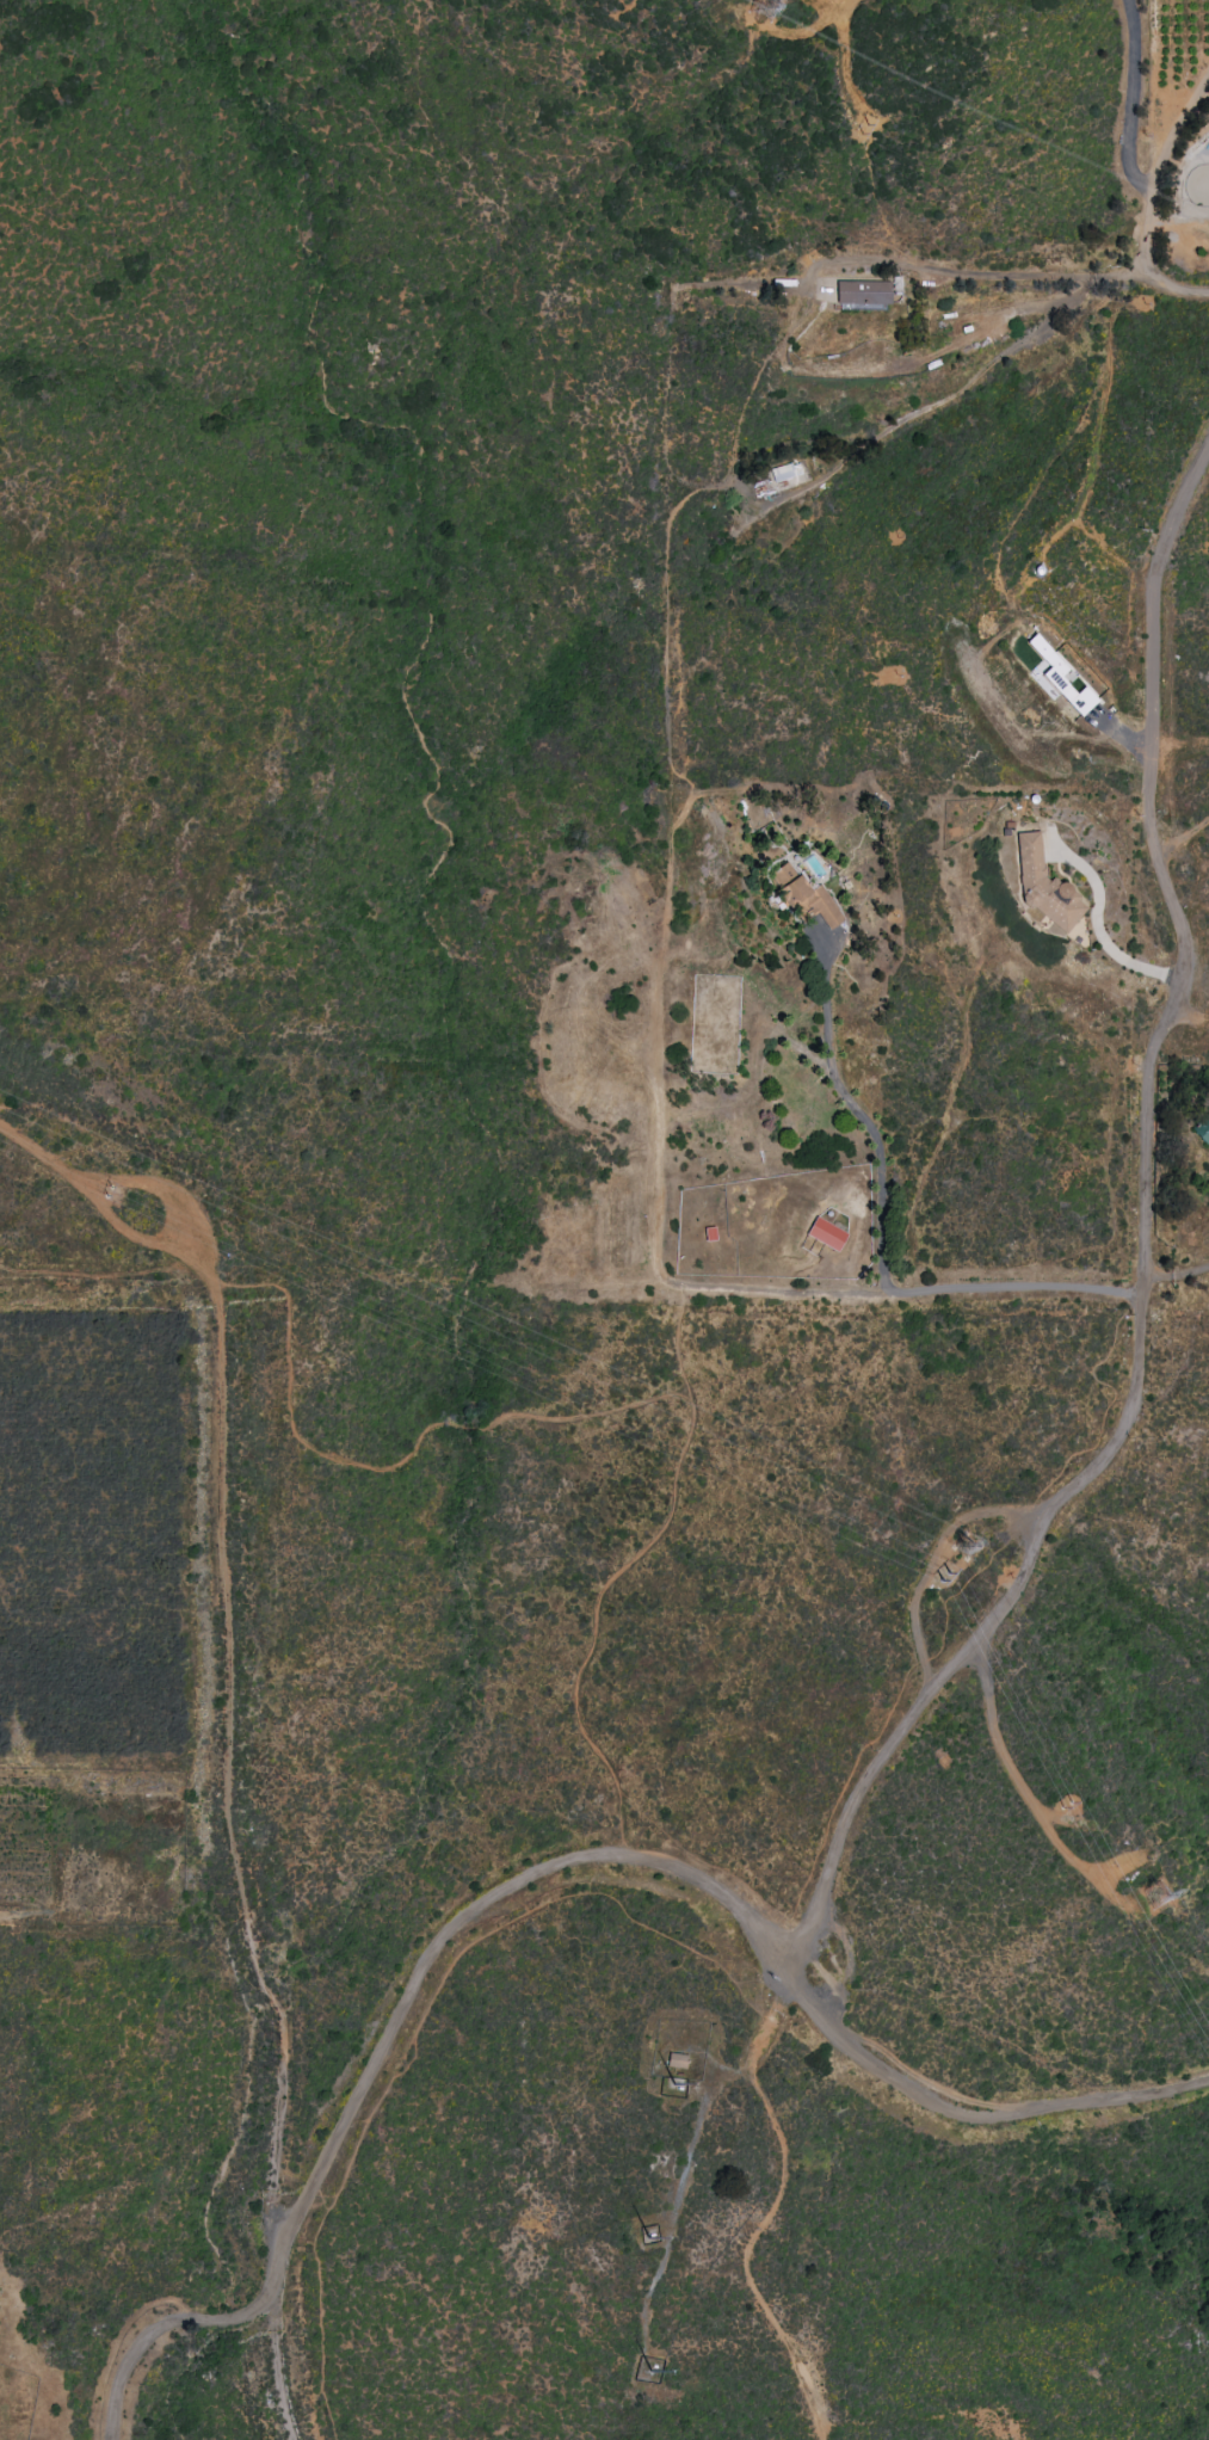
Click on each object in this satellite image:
power tower: (765, 5)
road: (844, 63)
road: (1136, 98)
power tower: (861, 129)
road: (1152, 205)
road: (962, 272)
road: (1115, 277)
building: (862, 292)
road: (967, 390)
building: (785, 472)
road: (1190, 486)
road: (1196, 869)
building: (1043, 886)
building: (803, 896)
road: (1098, 930)
road: (676, 1011)
road: (869, 1121)
building: (1202, 1129)
power tower: (110, 1193)
building: (826, 1233)
road: (1174, 1275)
road: (1140, 1290)
road: (772, 1295)
road: (418, 1434)
power tower: (967, 1548)
power tower: (937, 1573)
road: (593, 1616)
road: (229, 1664)
road: (905, 1677)
road: (1024, 1792)
power tower: (1066, 1812)
power tower: (1154, 1896)
road: (493, 1929)
road: (382, 2045)
building: (676, 2060)
road: (968, 2103)
road: (773, 2205)
road: (319, 2307)
road: (275, 2374)

